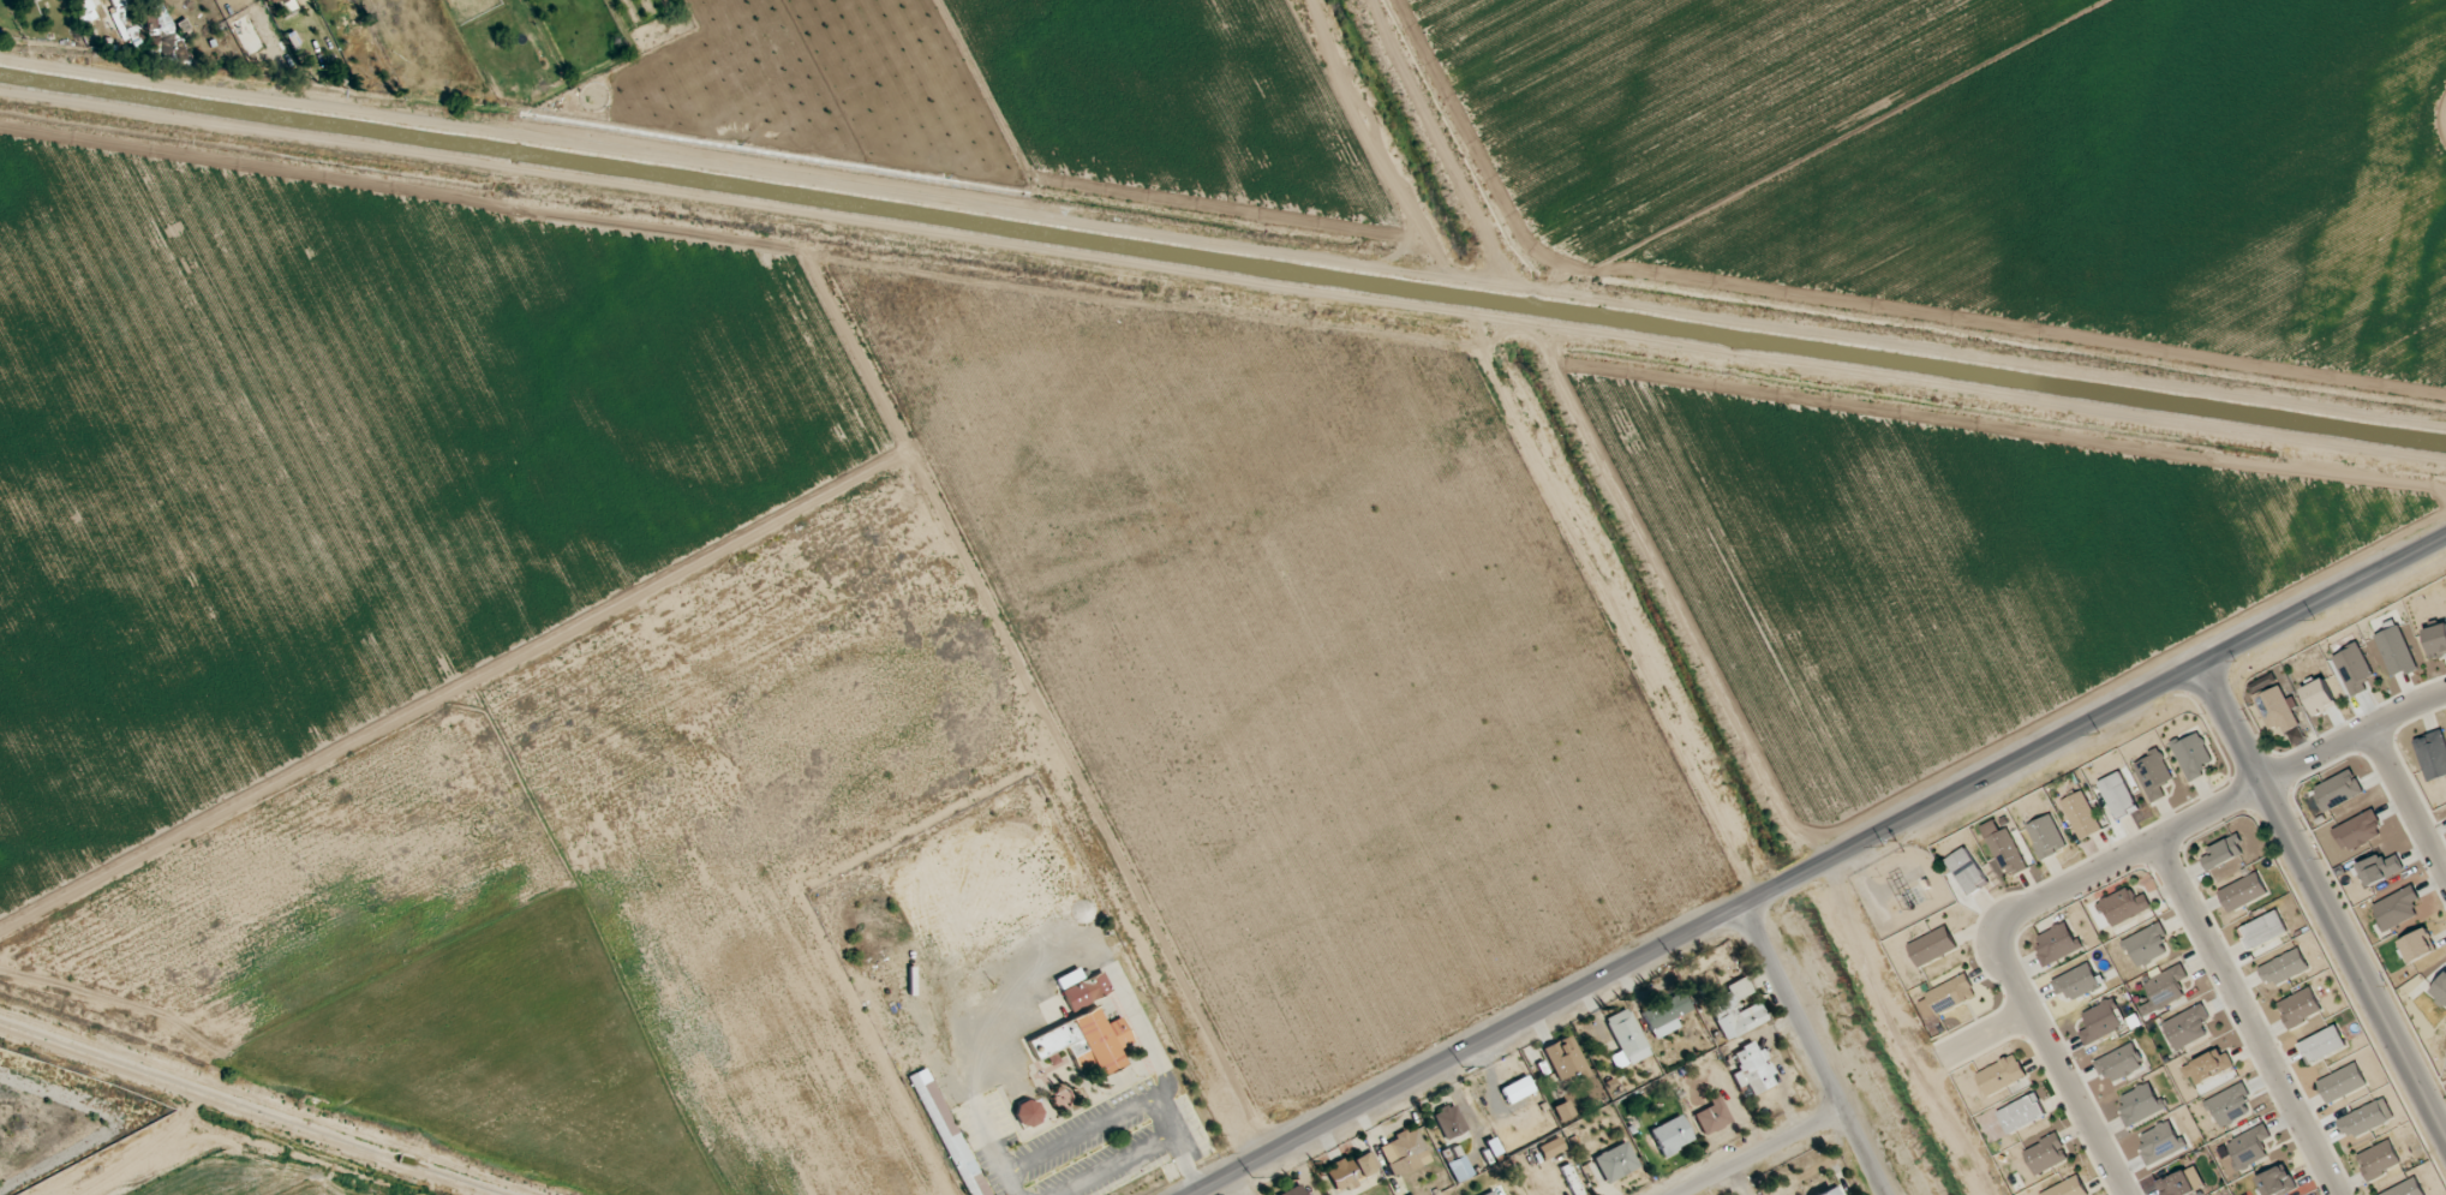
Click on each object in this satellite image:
building: (286, 6)
building: (84, 10)
building: (166, 37)
building: (2436, 640)
building: (2396, 651)
building: (2354, 669)
building: (2319, 697)
building: (2278, 709)
building: (2432, 754)
building: (2193, 755)
building: (2153, 775)
building: (2334, 793)
building: (2118, 795)
road: (2406, 809)
building: (2081, 815)
building: (2358, 831)
building: (2046, 836)
building: (2004, 849)
building: (2221, 853)
road: (1820, 866)
building: (2380, 868)
building: (1968, 871)
road: (2089, 876)
building: (2243, 892)
road: (2320, 903)
building: (2124, 906)
building: (2397, 908)
building: (2263, 930)
building: (2057, 943)
building: (2147, 944)
building: (2418, 945)
building: (1932, 946)
road: (1040, 966)
building: (2284, 967)
building: (1069, 979)
building: (2077, 982)
building: (1086, 990)
building: (2164, 990)
building: (2440, 991)
building: (1951, 994)
building: (2300, 1006)
building: (1735, 1008)
building: (1665, 1014)
road: (2245, 1020)
building: (2101, 1021)
building: (2188, 1027)
road: (1984, 1030)
road: (1898, 1032)
building: (1626, 1035)
building: (1088, 1041)
building: (2322, 1045)
road: (1816, 1051)
building: (1565, 1058)
building: (2119, 1063)
building: (2208, 1066)
building: (1752, 1069)
building: (2001, 1075)
building: (2342, 1083)
building: (1517, 1089)
building: (2141, 1104)
building: (2230, 1105)
building: (1563, 1111)
building: (1028, 1113)
building: (2021, 1113)
building: (1711, 1115)
road: (1114, 1116)
building: (2366, 1118)
building: (1449, 1121)
building: (949, 1133)
building: (1669, 1135)
building: (2160, 1143)
building: (2249, 1147)
building: (1550, 1148)
building: (1404, 1152)
road: (1765, 1152)
building: (2046, 1154)
building: (2379, 1159)
building: (1615, 1161)
road: (1113, 1165)
building: (1460, 1169)
building: (1351, 1170)
building: (2277, 1182)
building: (2183, 1183)
building: (2068, 1188)
building: (2406, 1188)
building: (1294, 1190)
building: (1831, 1191)
building: (1493, 1193)

